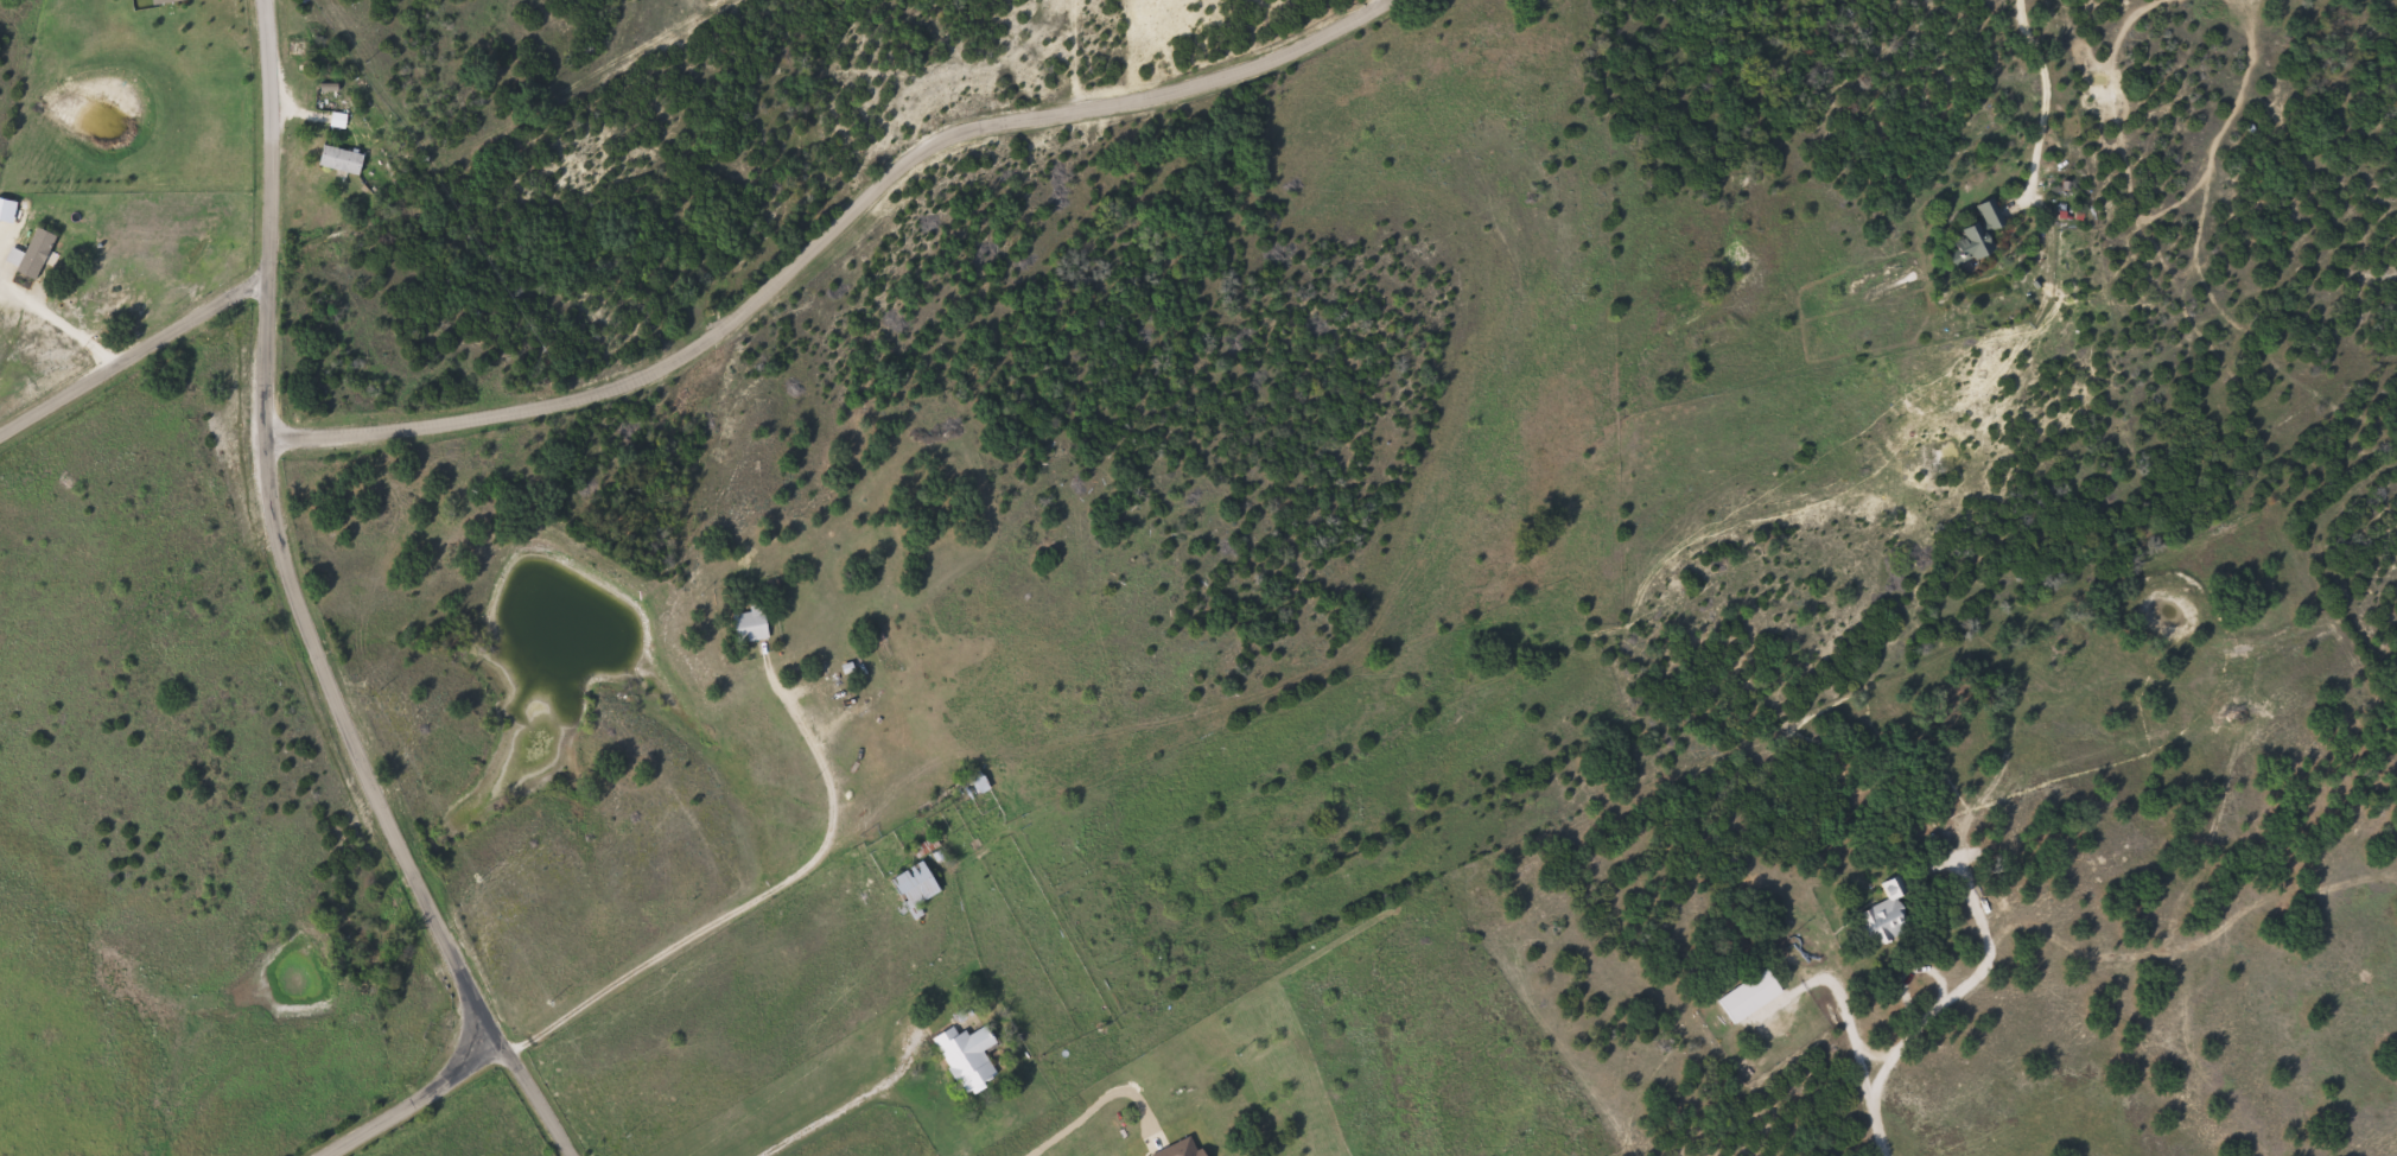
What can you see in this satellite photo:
building: (167, 1)
road: (1375, 6)
road: (2007, 24)
road: (1075, 56)
building: (343, 160)
road: (831, 233)
building: (1979, 235)
building: (33, 254)
road: (1719, 279)
road: (2179, 315)
road: (133, 358)
road: (295, 608)
building: (752, 625)
building: (978, 785)
building: (917, 889)
road: (742, 907)
building: (1889, 914)
road: (1962, 989)
building: (1751, 996)
building: (969, 1056)
road: (1873, 1098)
road: (417, 1103)

